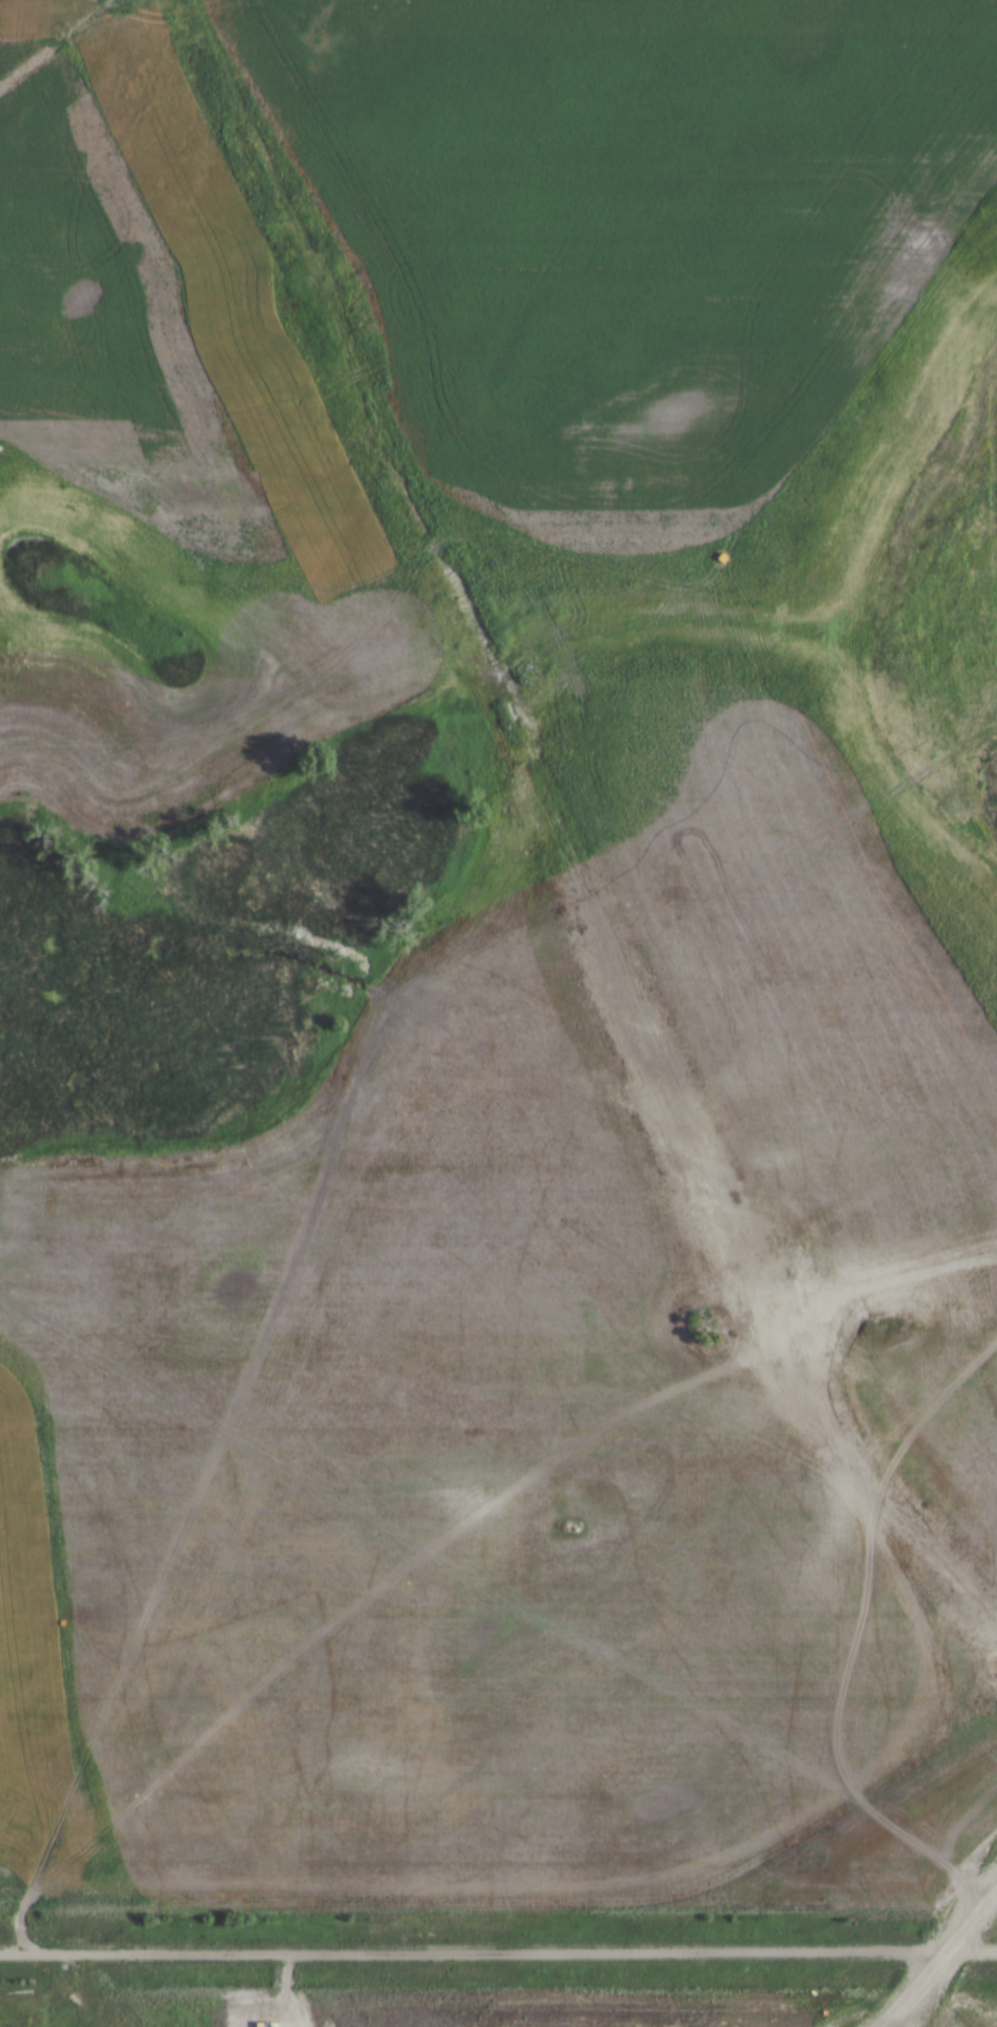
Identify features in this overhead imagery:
road: (498, 1952)

